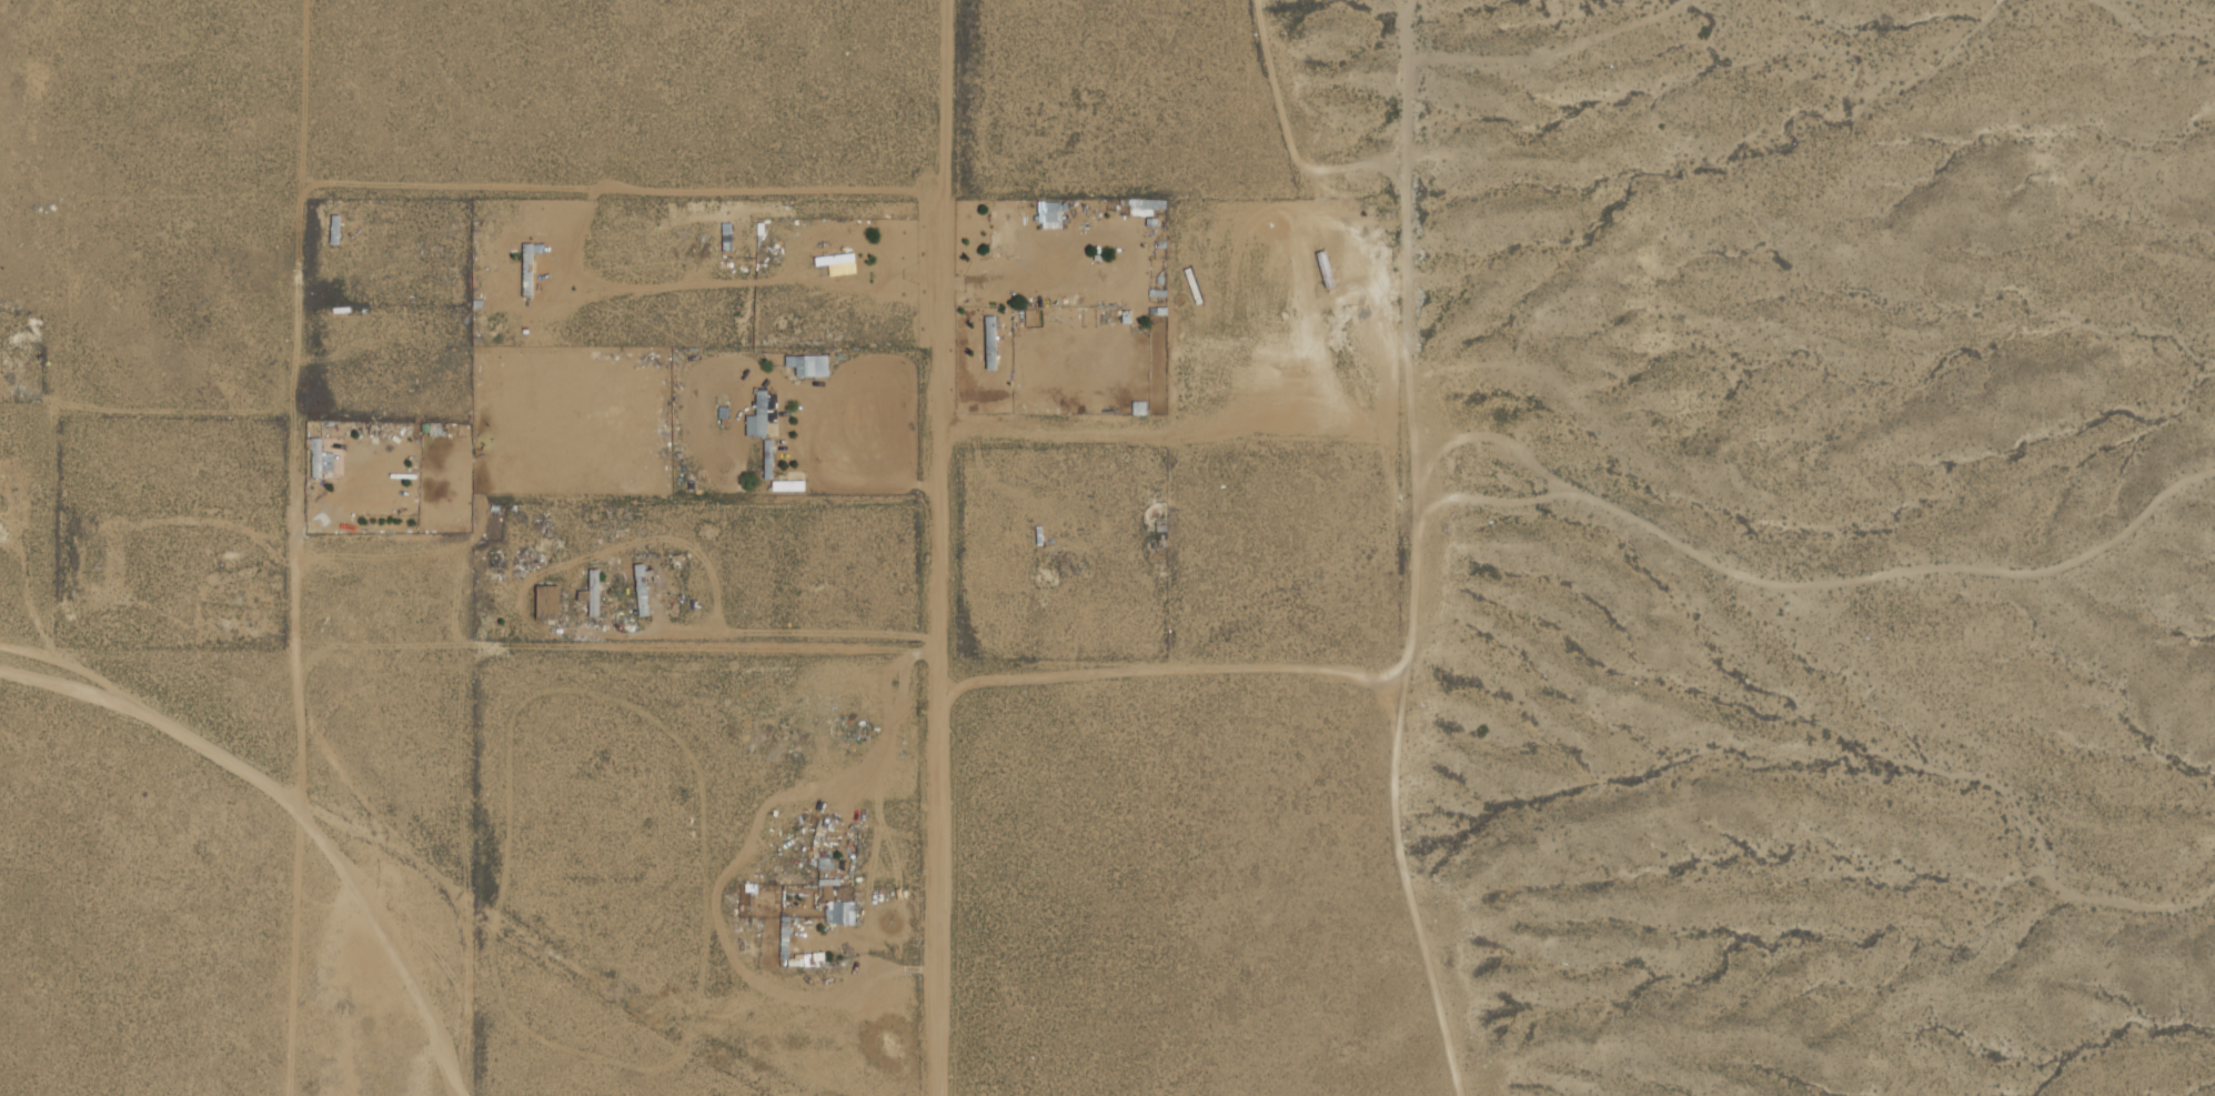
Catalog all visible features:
road: (316, 184)
building: (1049, 217)
building: (333, 230)
building: (1001, 231)
building: (835, 264)
building: (989, 344)
building: (963, 351)
building: (806, 366)
building: (756, 419)
building: (439, 431)
building: (345, 434)
building: (319, 462)
building: (682, 464)
building: (786, 486)
road: (1404, 542)
road: (945, 547)
building: (79, 556)
building: (640, 590)
building: (592, 601)
building: (545, 603)
road: (621, 646)
road: (1175, 665)
road: (406, 854)
building: (842, 913)
building: (783, 938)
road: (392, 946)
building: (809, 1017)

